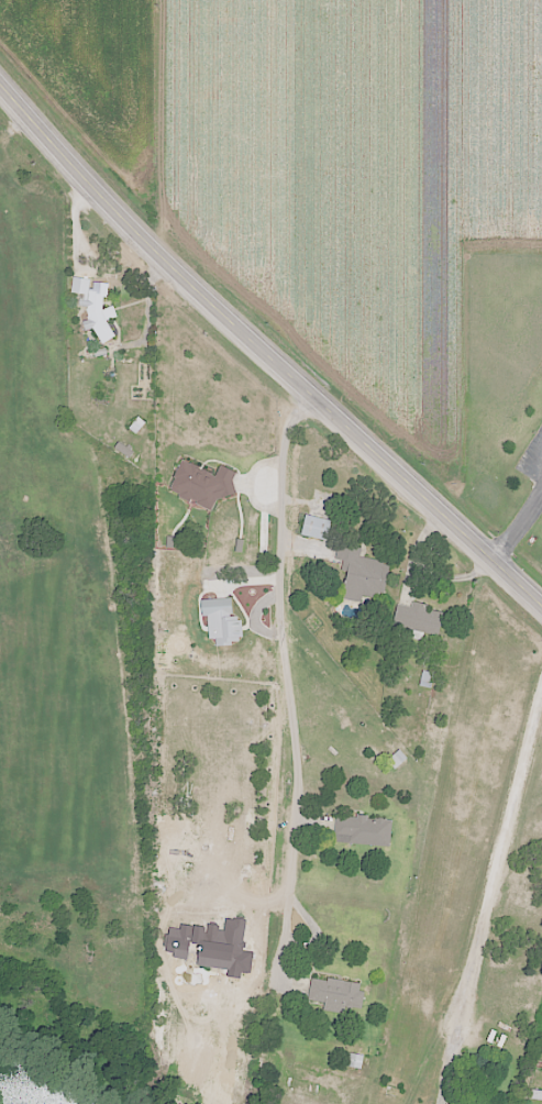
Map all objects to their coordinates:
road: (169, 132)
building: (95, 352)
road: (264, 352)
building: (201, 484)
building: (314, 527)
road: (520, 536)
building: (362, 574)
building: (417, 618)
road: (287, 682)
building: (363, 829)
road: (487, 895)
building: (335, 994)
building: (541, 1071)
river: (20, 1089)
building: (534, 1096)
building: (449, 1103)

